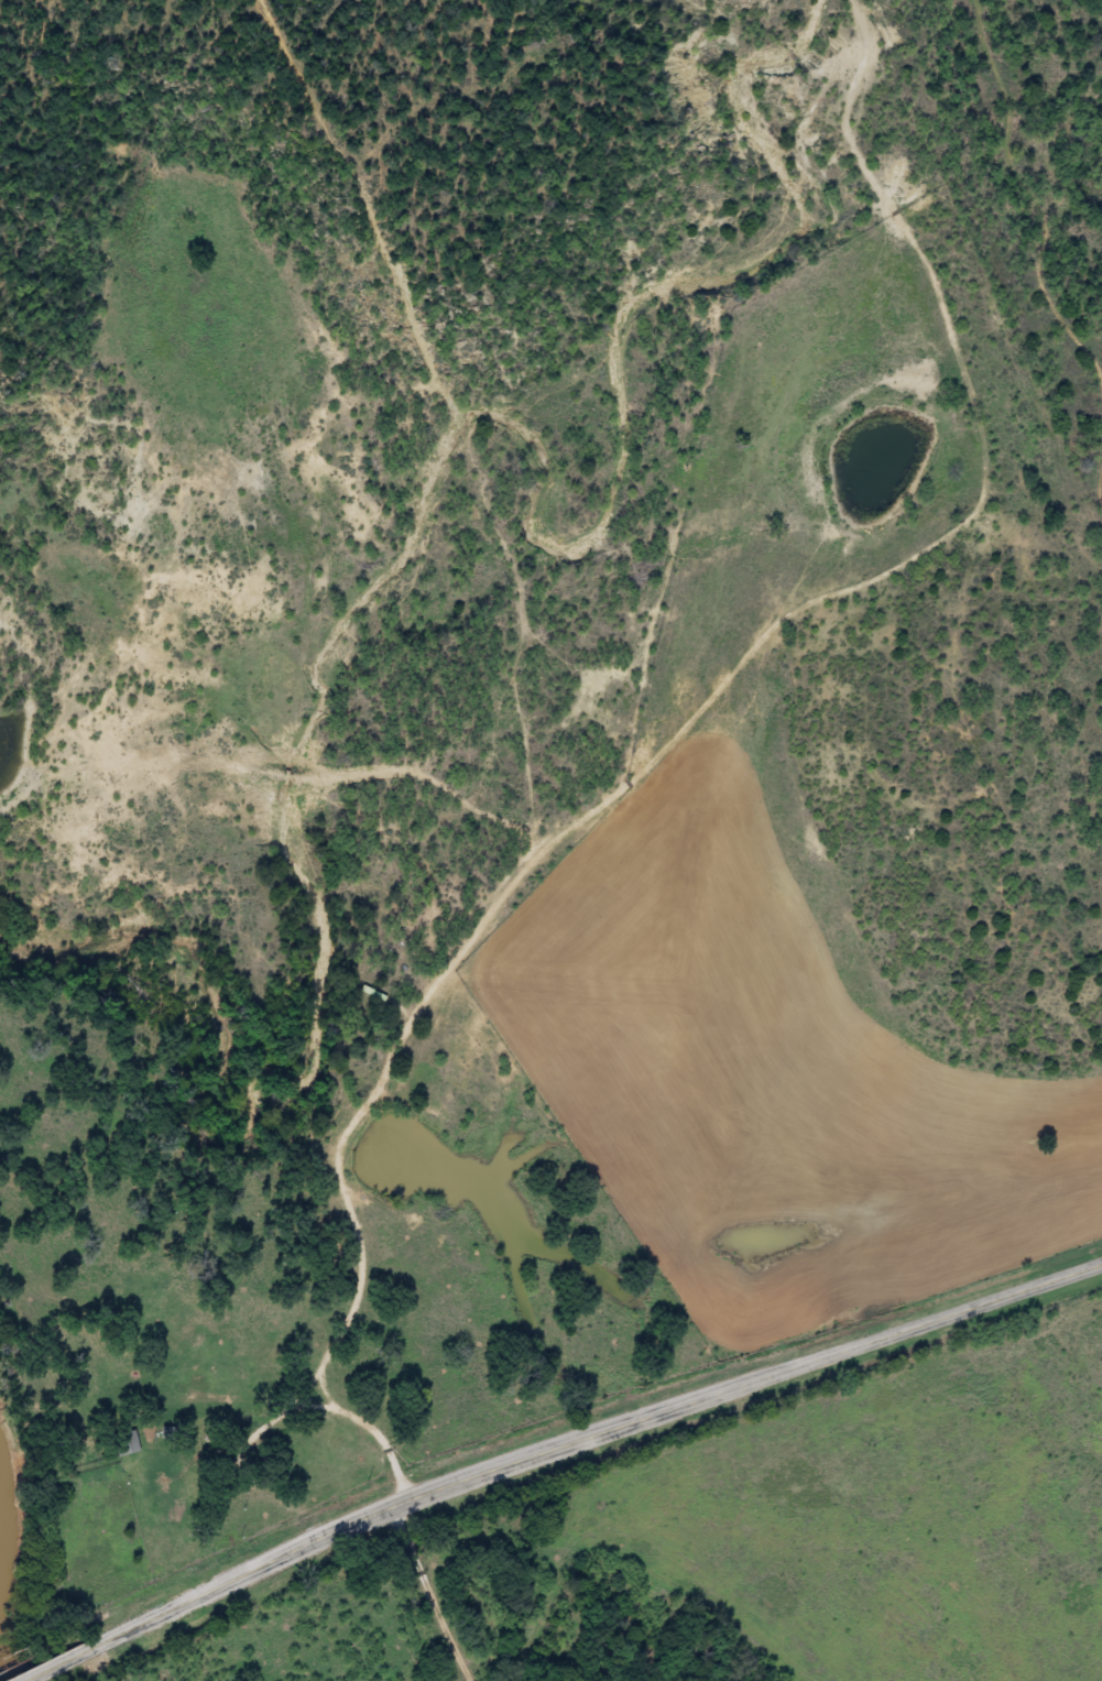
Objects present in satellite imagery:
road: (571, 1441)
road: (331, 1615)
railway: (18, 1651)
road: (39, 1670)
river: (0, 1678)

